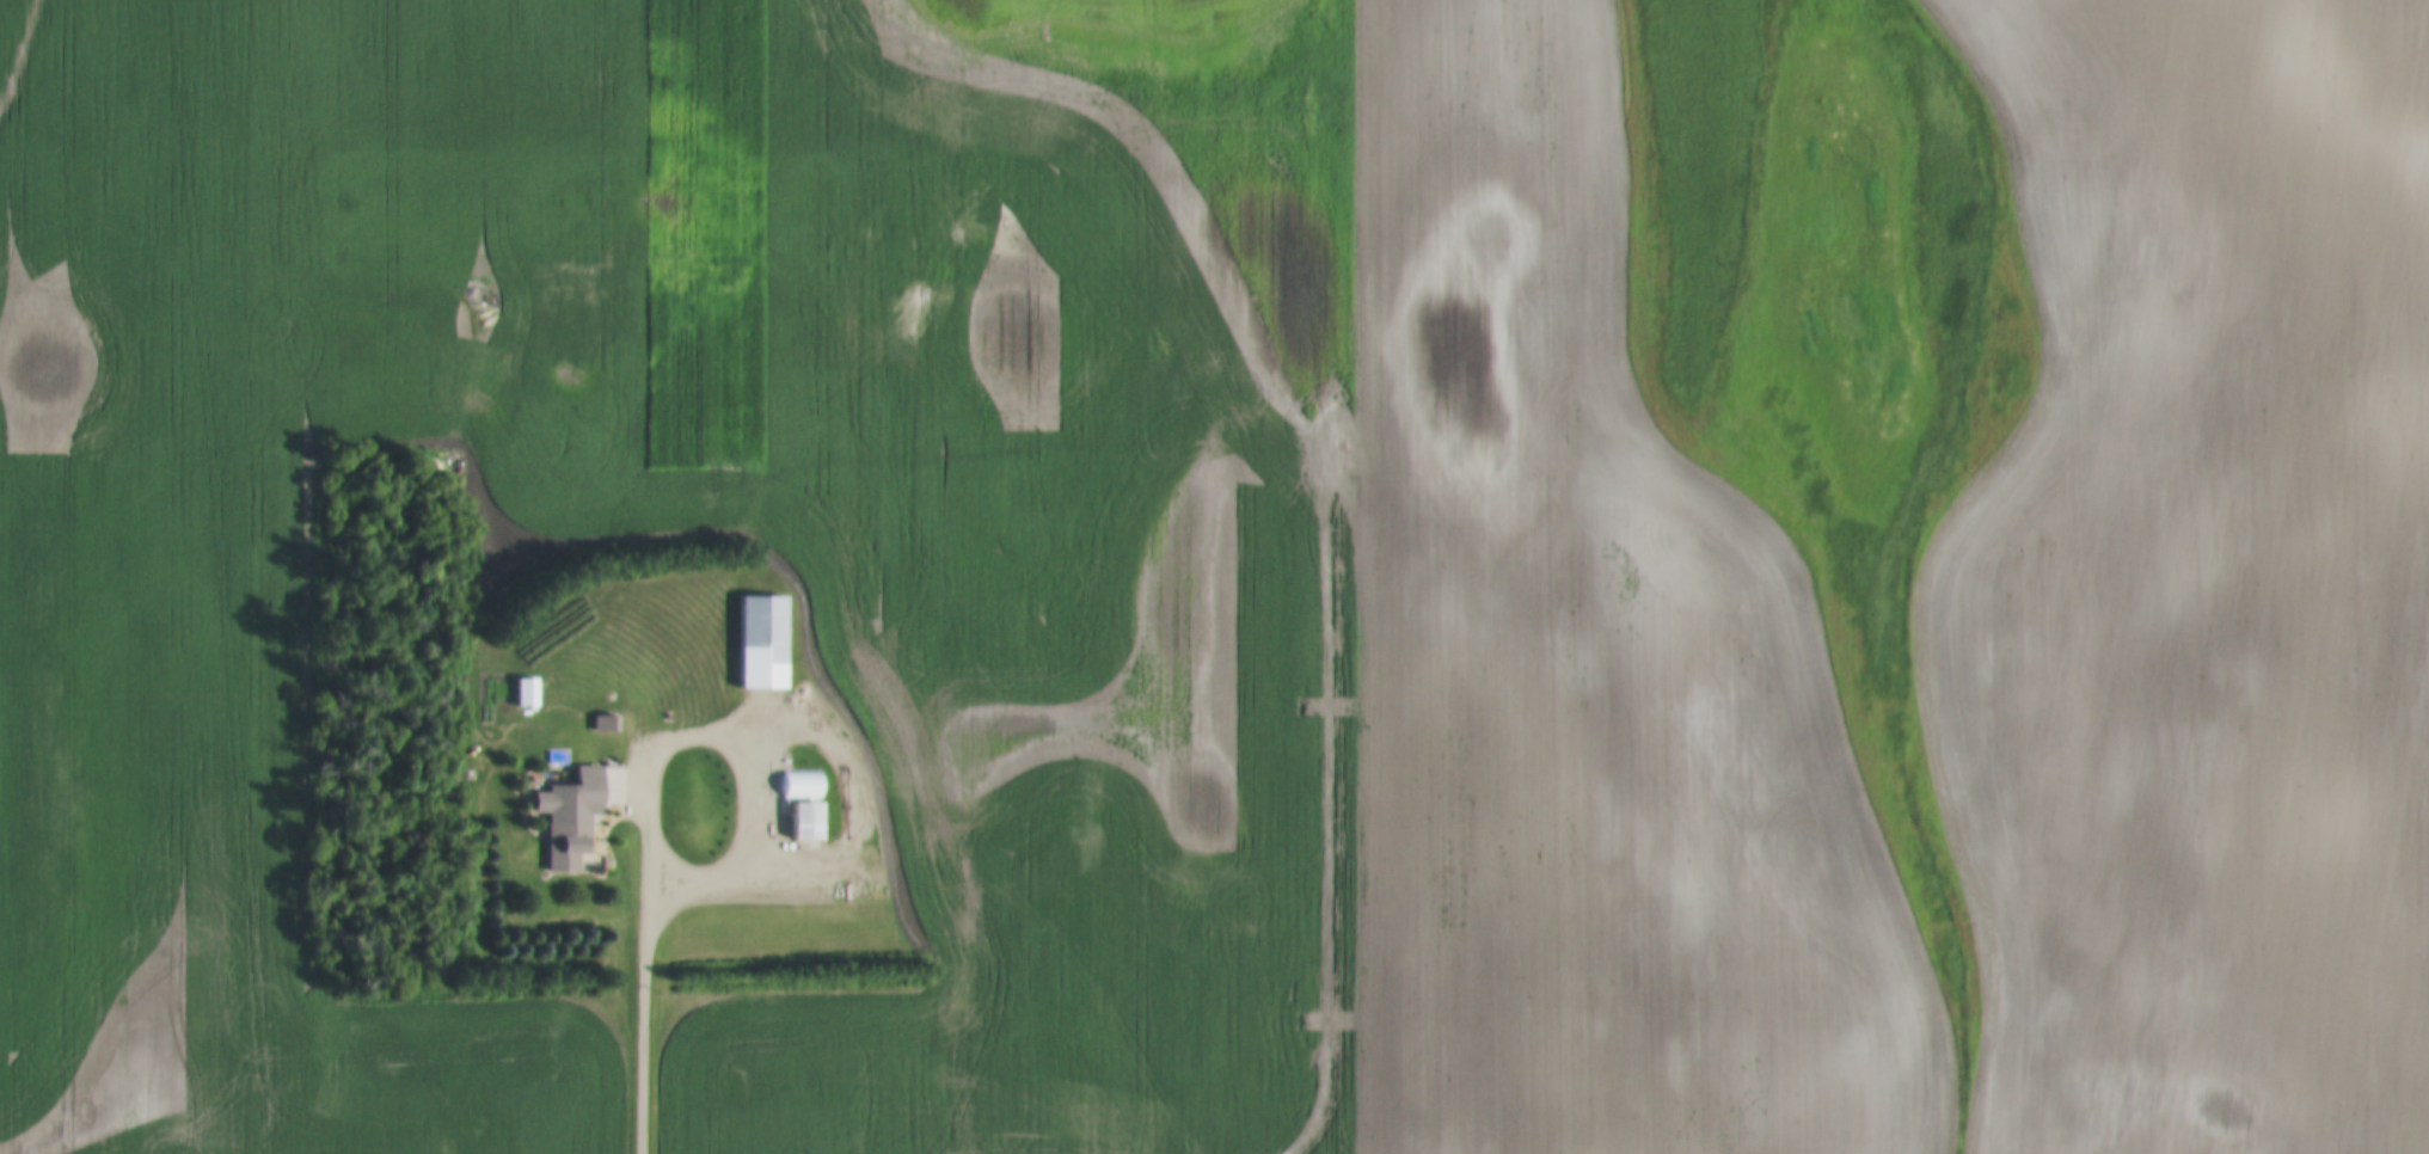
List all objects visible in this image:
road: (1360, 577)
building: (762, 644)
building: (527, 694)
building: (603, 726)
building: (529, 747)
building: (804, 804)
building: (570, 818)
road: (657, 919)

